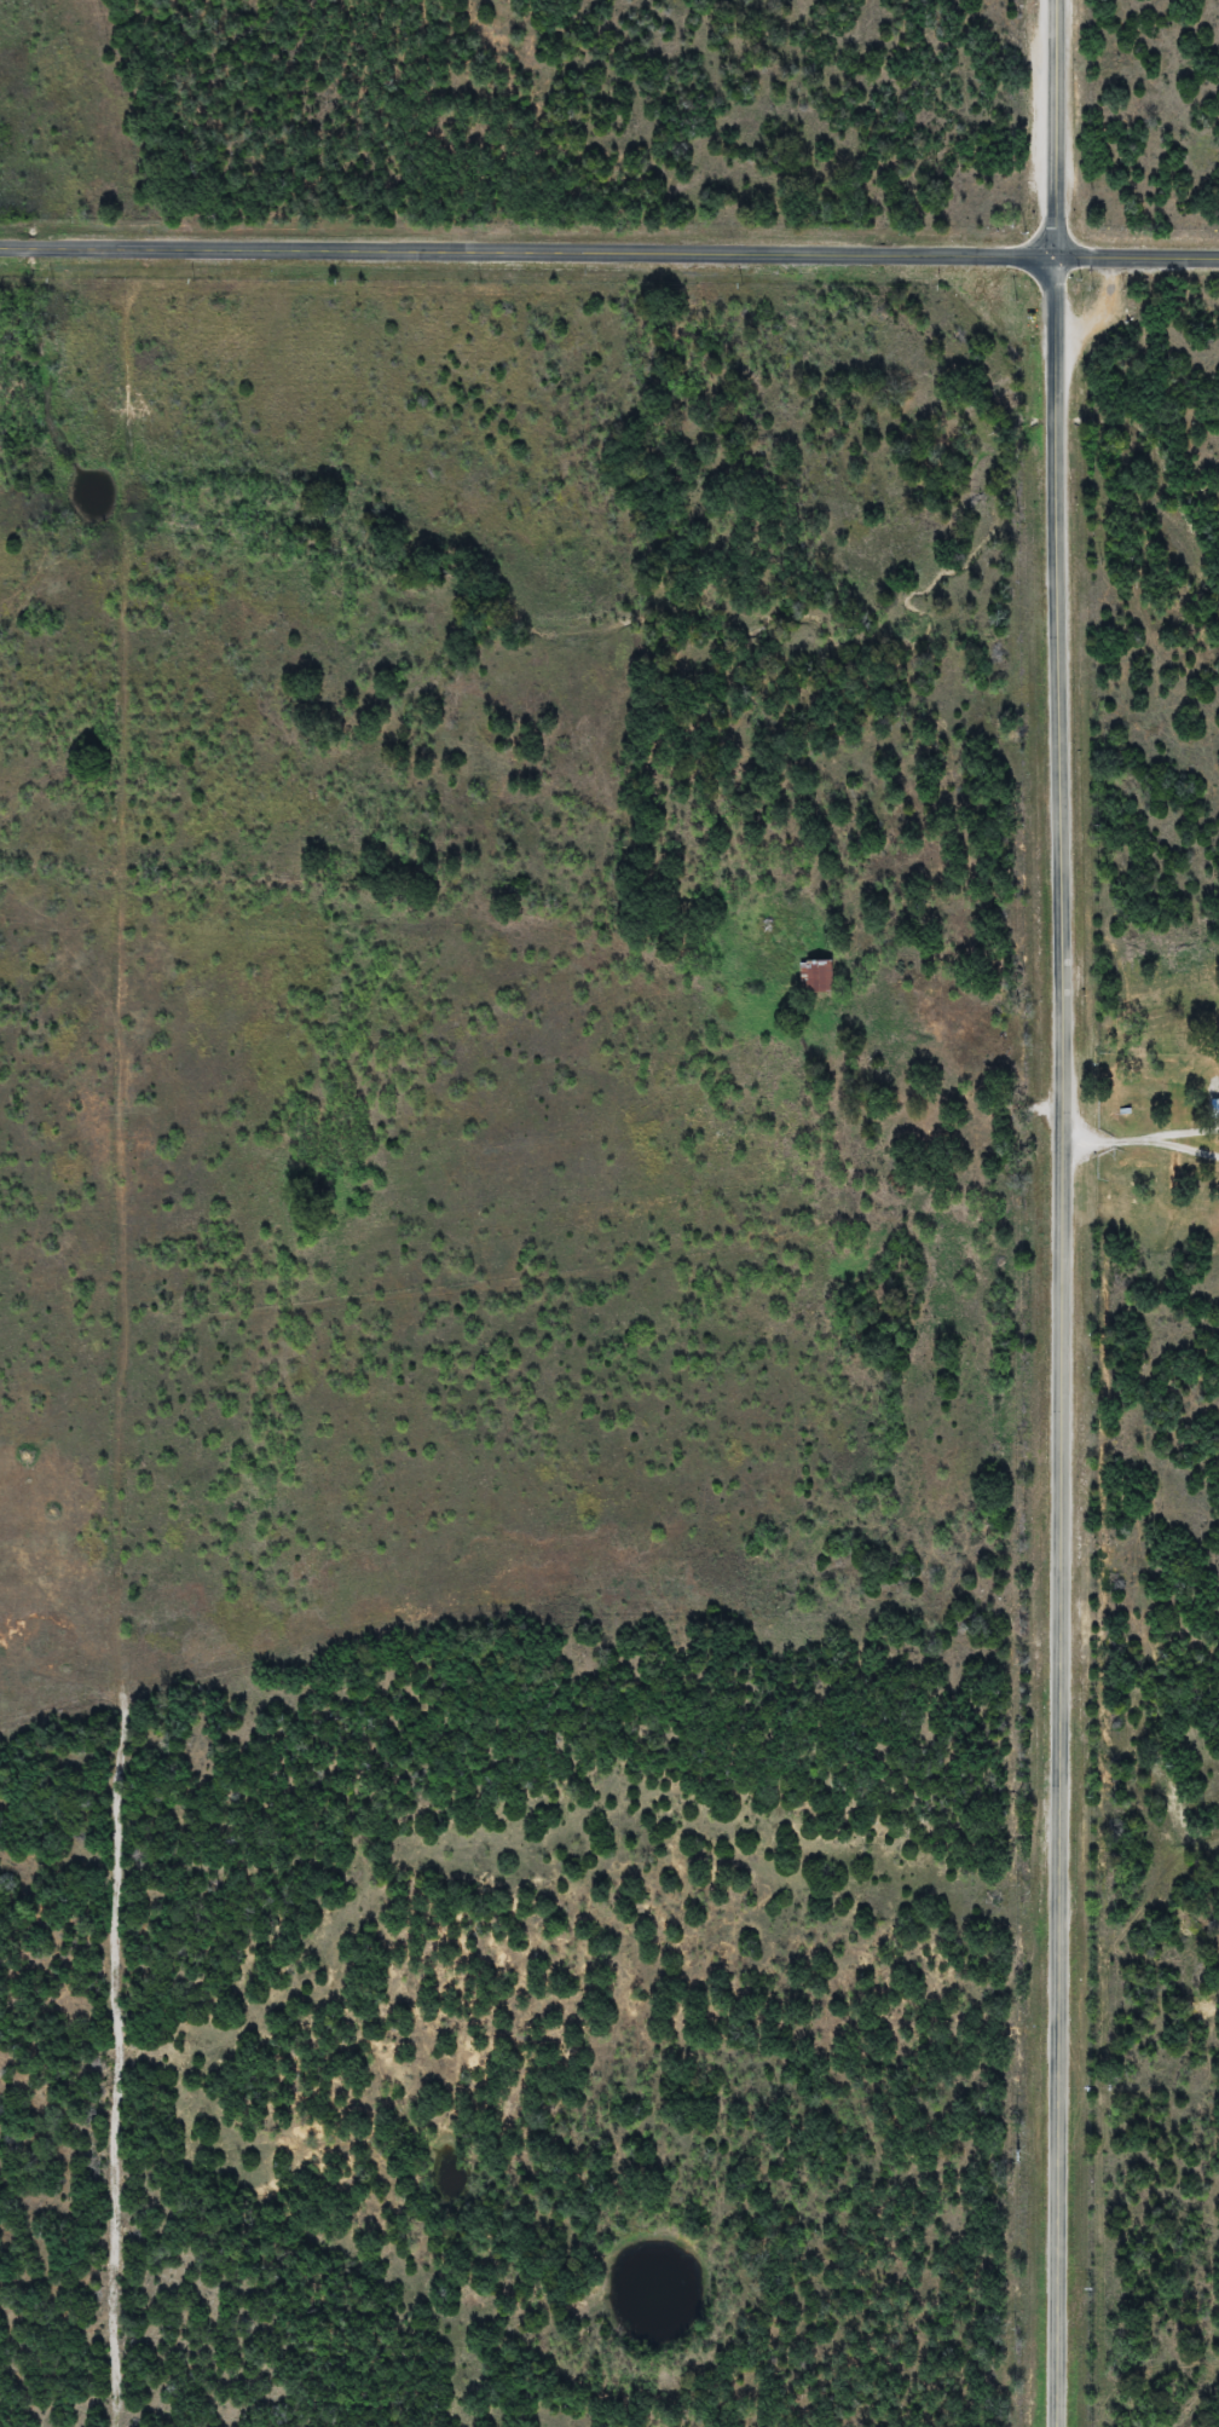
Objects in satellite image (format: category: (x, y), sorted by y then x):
road: (608, 255)
building: (824, 978)
building: (1215, 1111)
building: (938, 1134)
road: (1064, 1213)

